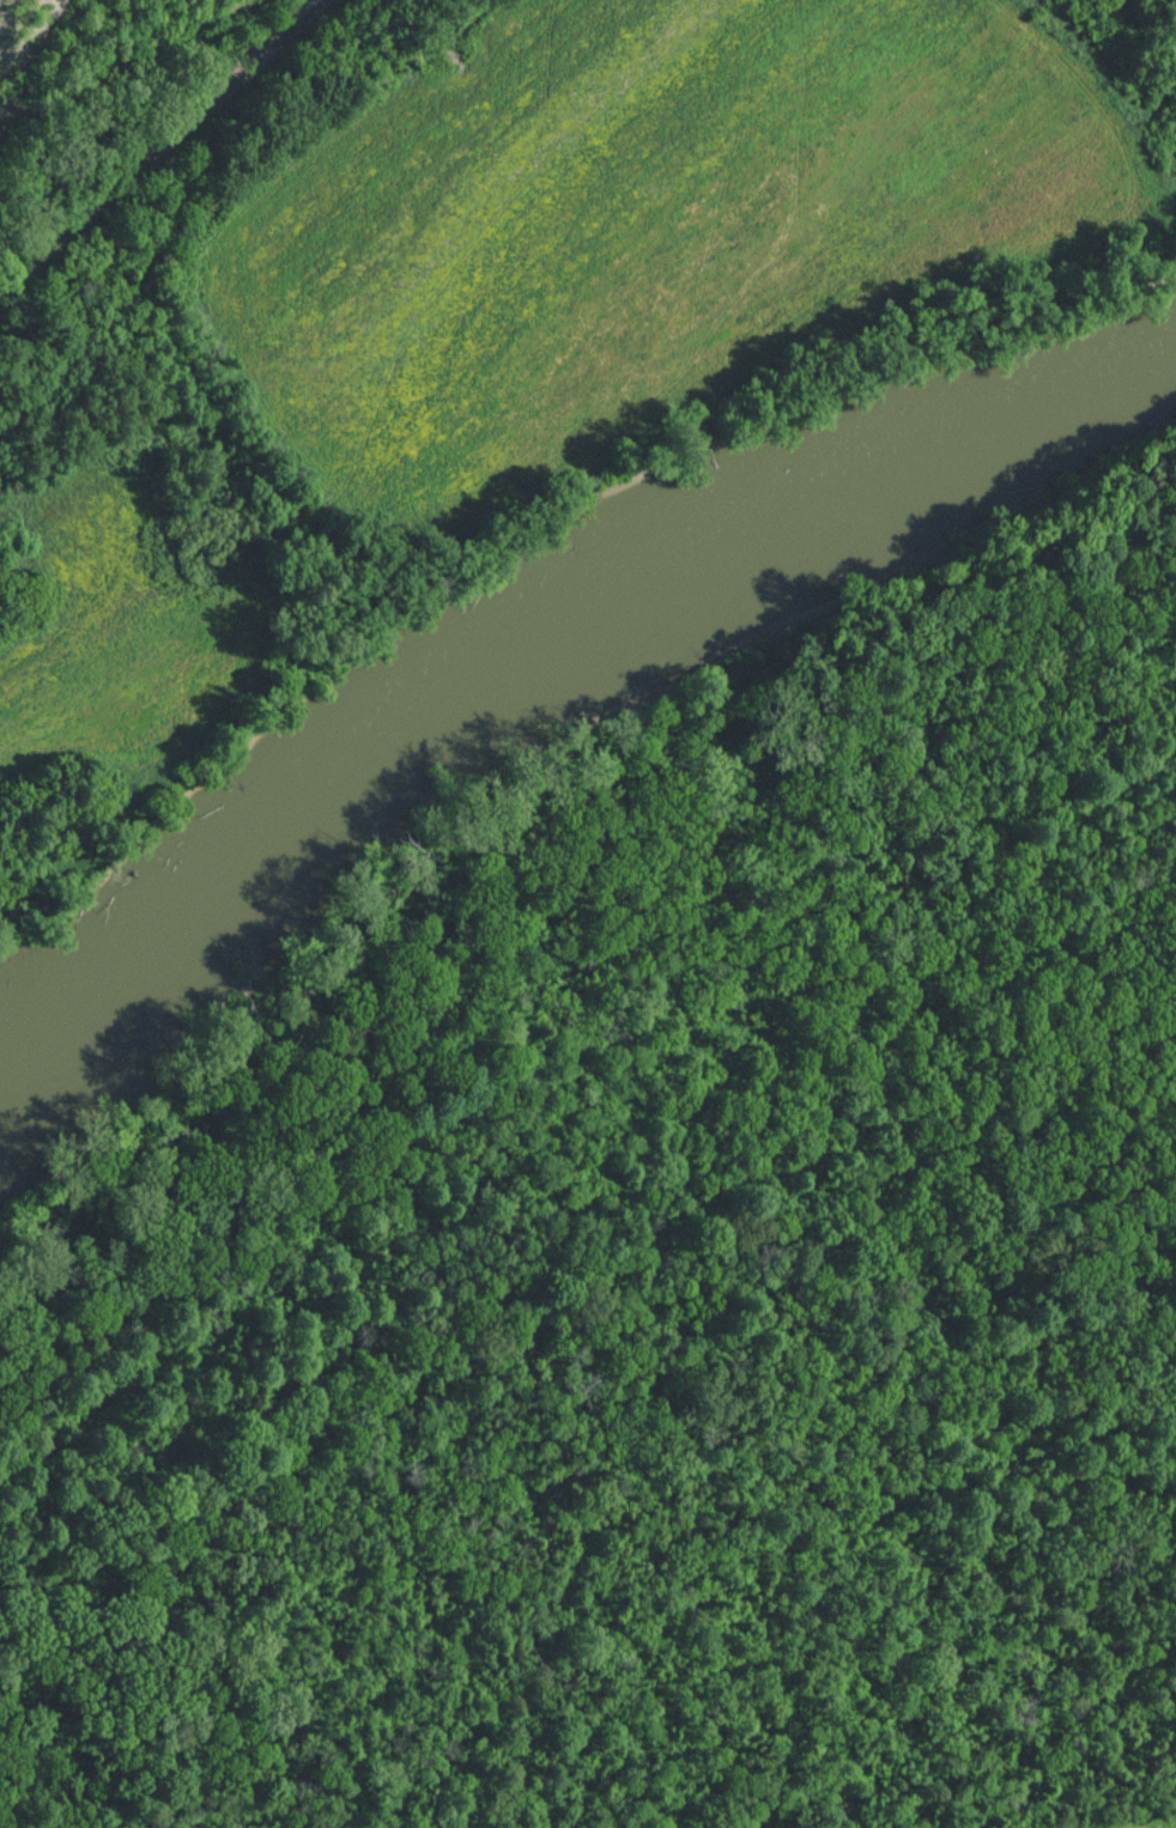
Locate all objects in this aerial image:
railway: (162, 144)
river: (535, 615)

